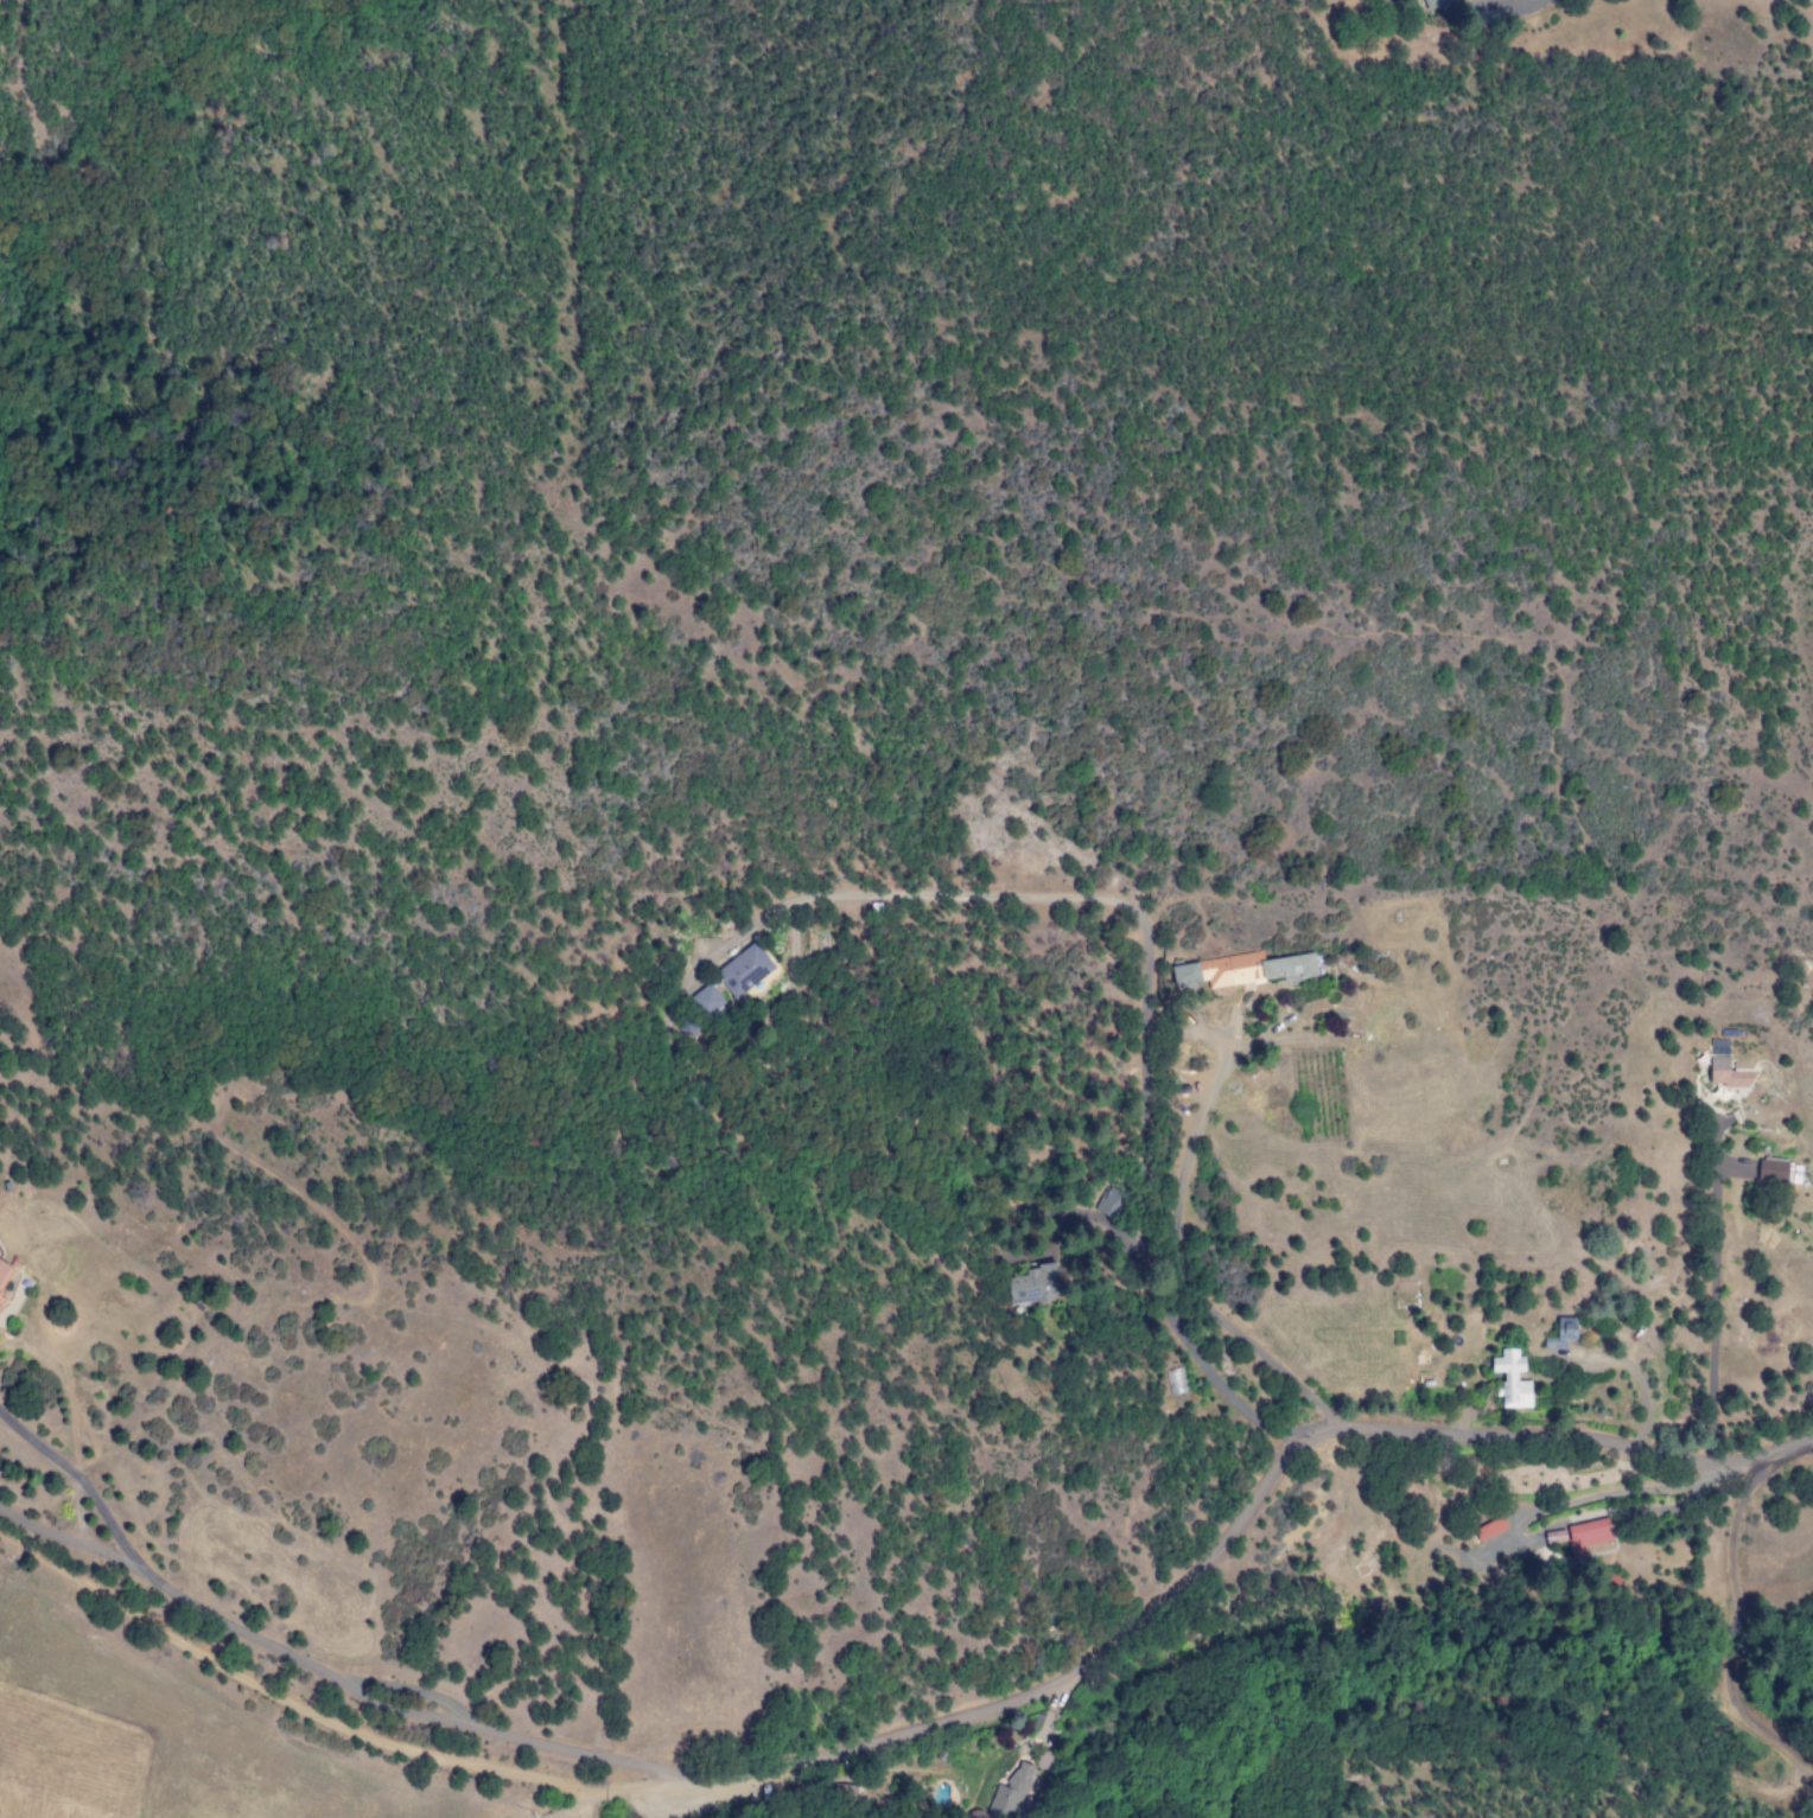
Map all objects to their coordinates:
road: (1494, 0)
building: (1435, 4)
building: (744, 970)
building: (1241, 970)
building: (706, 1001)
building: (1725, 1074)
building: (1774, 1172)
building: (1111, 1203)
building: (5, 1274)
building: (1035, 1286)
building: (1560, 1334)
building: (1510, 1379)
building: (1579, 1536)
road: (1226, 1543)
road: (307, 1707)
building: (1013, 1793)
road: (606, 1806)

